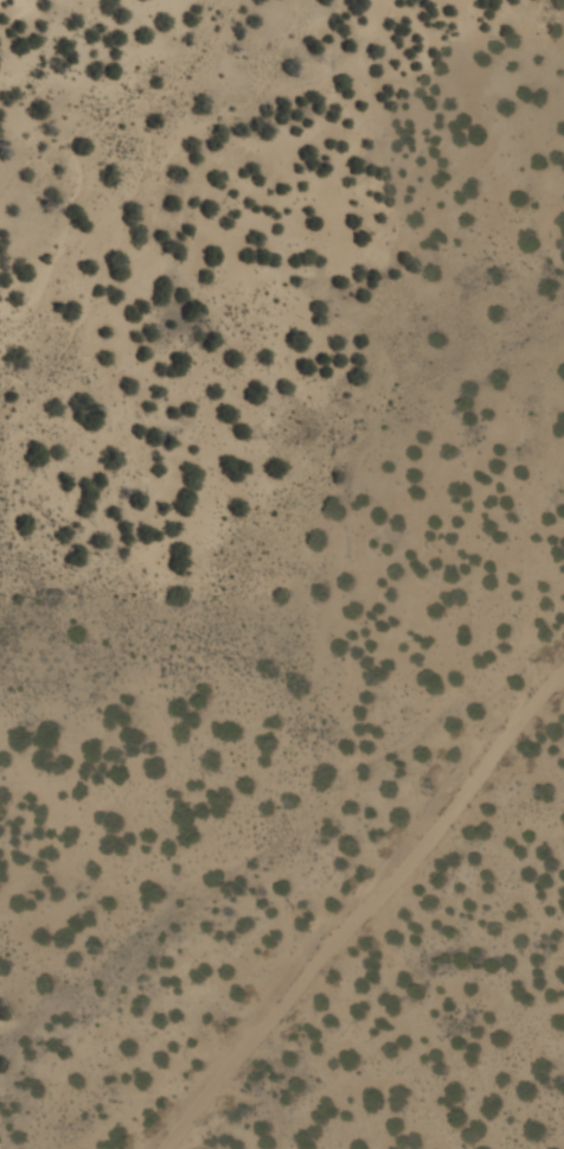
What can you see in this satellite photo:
road: (293, 913)

